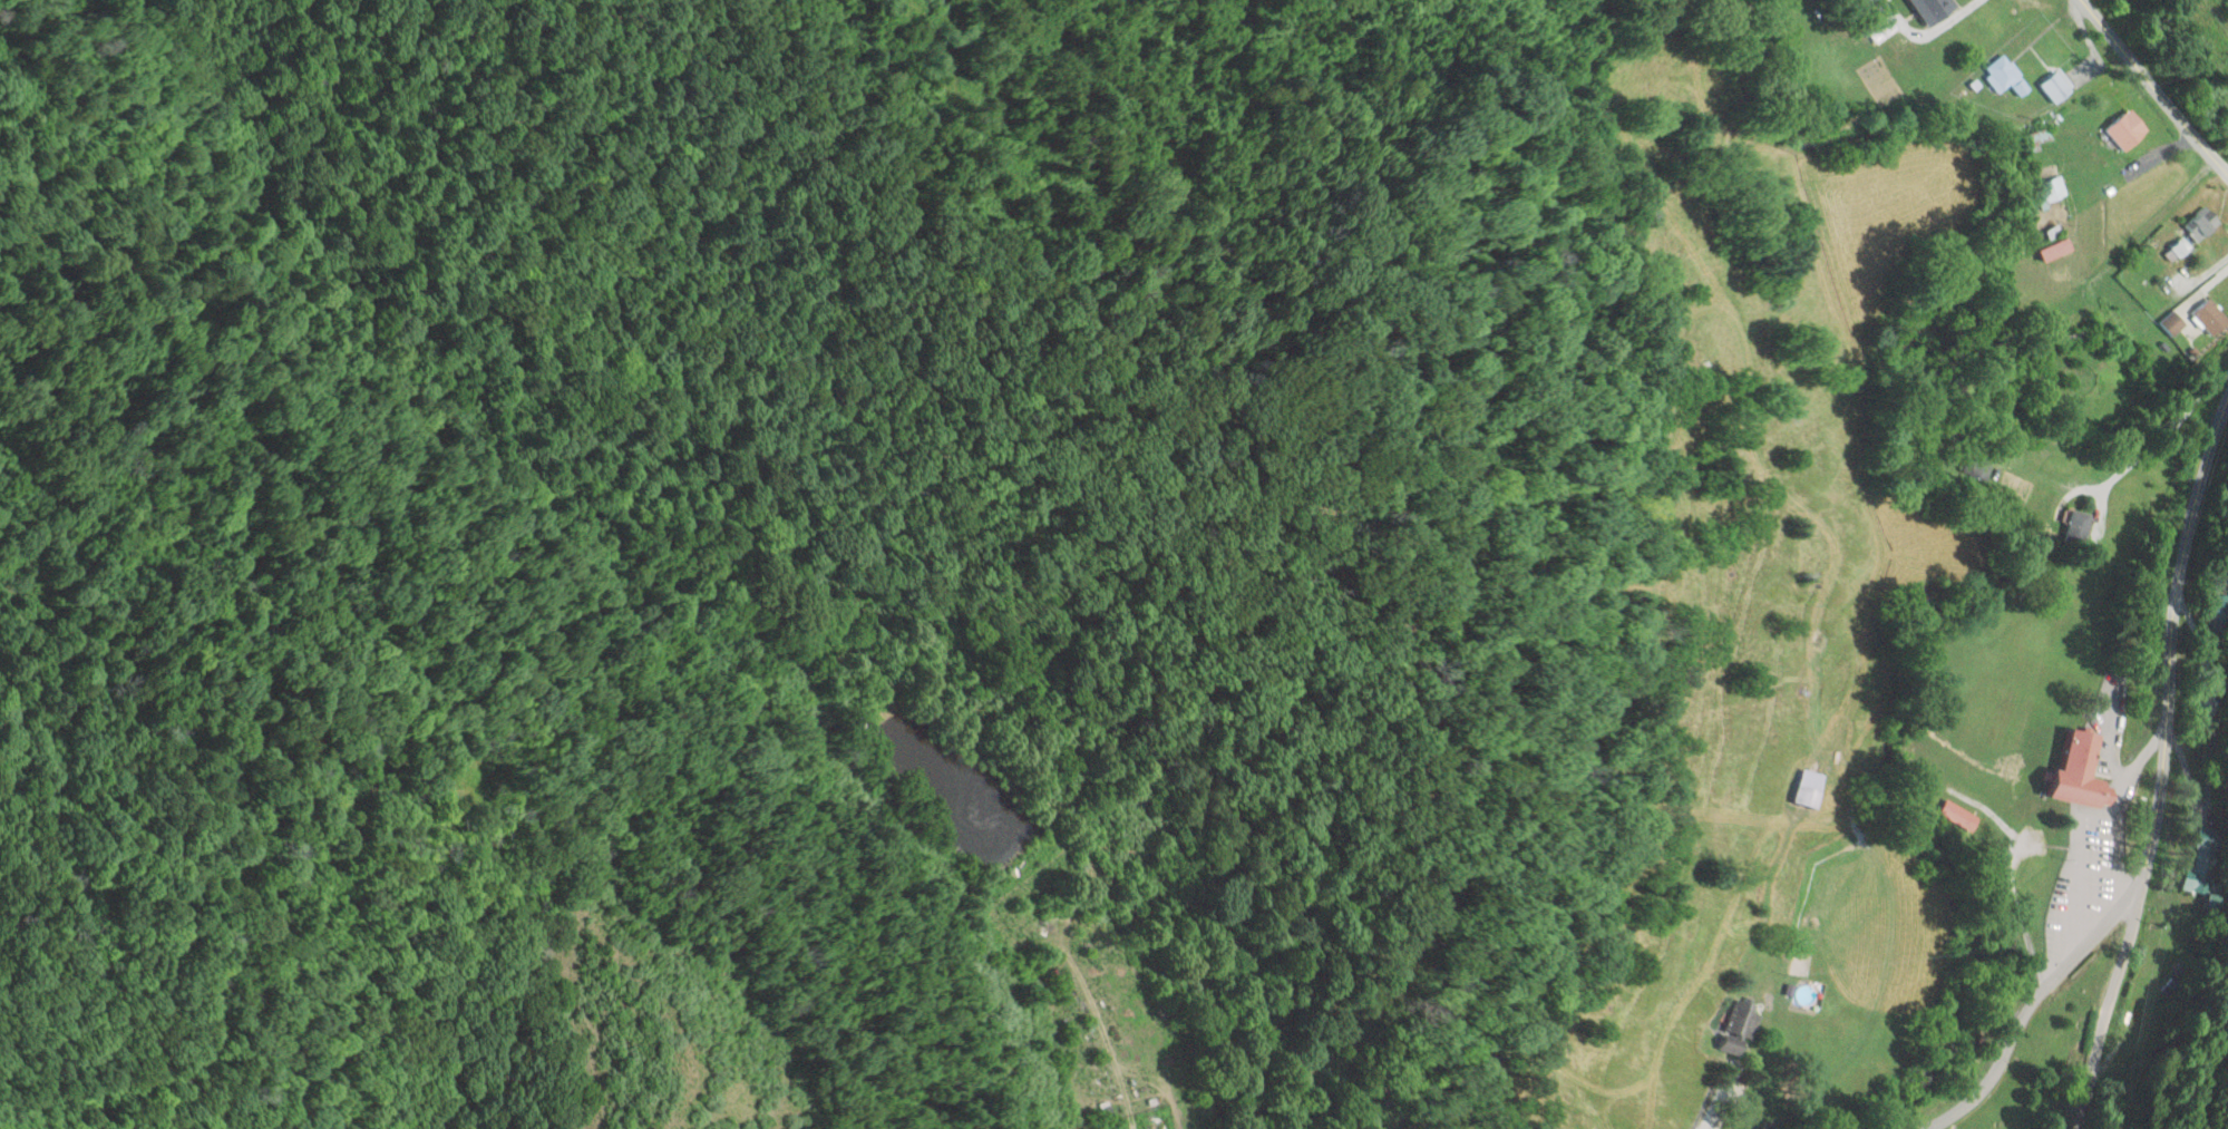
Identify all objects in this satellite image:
building: (1964, 21)
building: (2005, 77)
building: (2056, 87)
road: (2156, 88)
building: (2128, 129)
building: (2050, 189)
building: (2202, 224)
building: (2209, 314)
building: (2173, 323)
building: (2078, 338)
building: (2079, 526)
road: (2163, 770)
building: (2083, 773)
building: (1811, 789)
building: (2196, 868)
road: (2027, 1006)
building: (1739, 1028)

